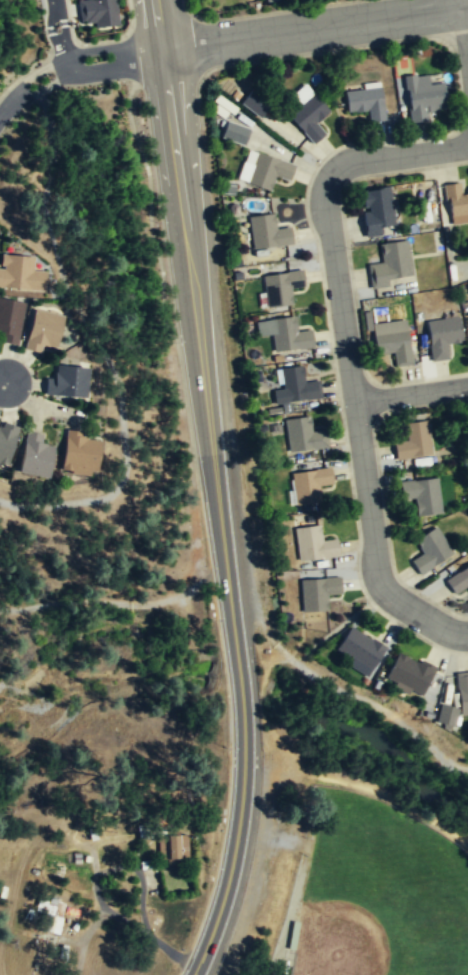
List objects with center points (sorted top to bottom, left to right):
building: (268, 0)
building: (98, 12)
road: (464, 24)
road: (157, 25)
road: (314, 29)
road: (58, 32)
road: (72, 62)
road: (163, 67)
building: (423, 96)
building: (367, 102)
building: (255, 104)
building: (309, 116)
building: (236, 133)
building: (268, 171)
building: (455, 198)
road: (180, 202)
building: (375, 209)
building: (267, 232)
building: (388, 262)
building: (23, 273)
building: (281, 288)
building: (11, 319)
building: (42, 332)
building: (285, 333)
building: (441, 336)
building: (391, 340)
road: (98, 341)
road: (346, 360)
road: (3, 381)
building: (71, 381)
building: (296, 386)
road: (411, 394)
road: (206, 411)
building: (304, 435)
building: (412, 440)
building: (8, 442)
building: (83, 452)
building: (38, 456)
building: (310, 484)
building: (421, 494)
building: (314, 543)
building: (429, 549)
building: (458, 580)
building: (318, 593)
road: (121, 602)
building: (358, 648)
building: (408, 673)
building: (462, 691)
building: (446, 715)
road: (245, 740)
building: (171, 845)
building: (50, 922)

